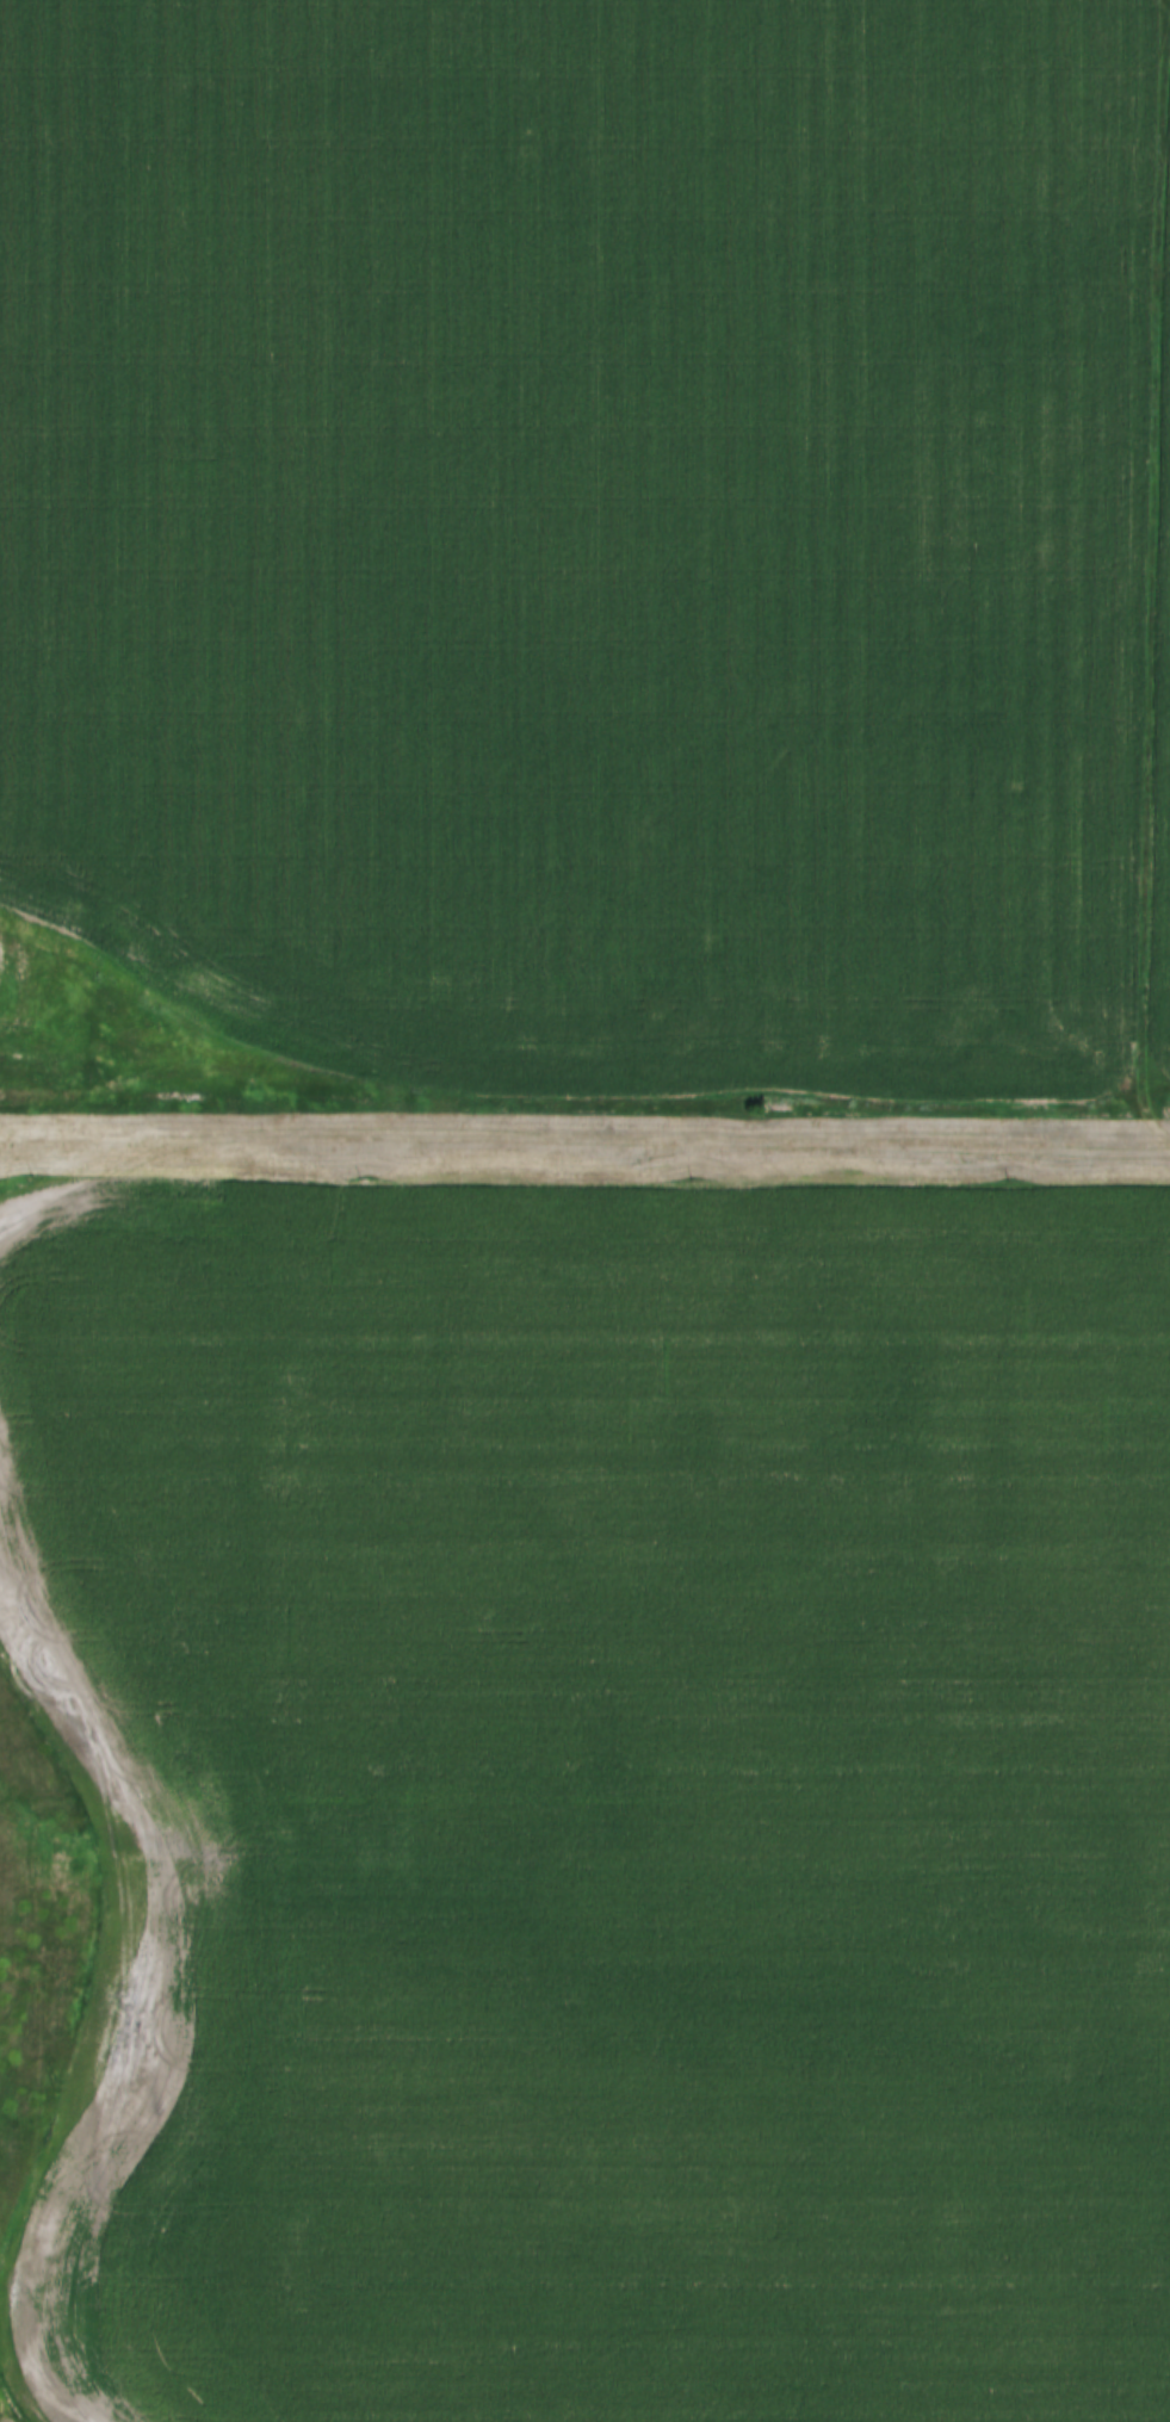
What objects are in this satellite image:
road: (587, 1094)

